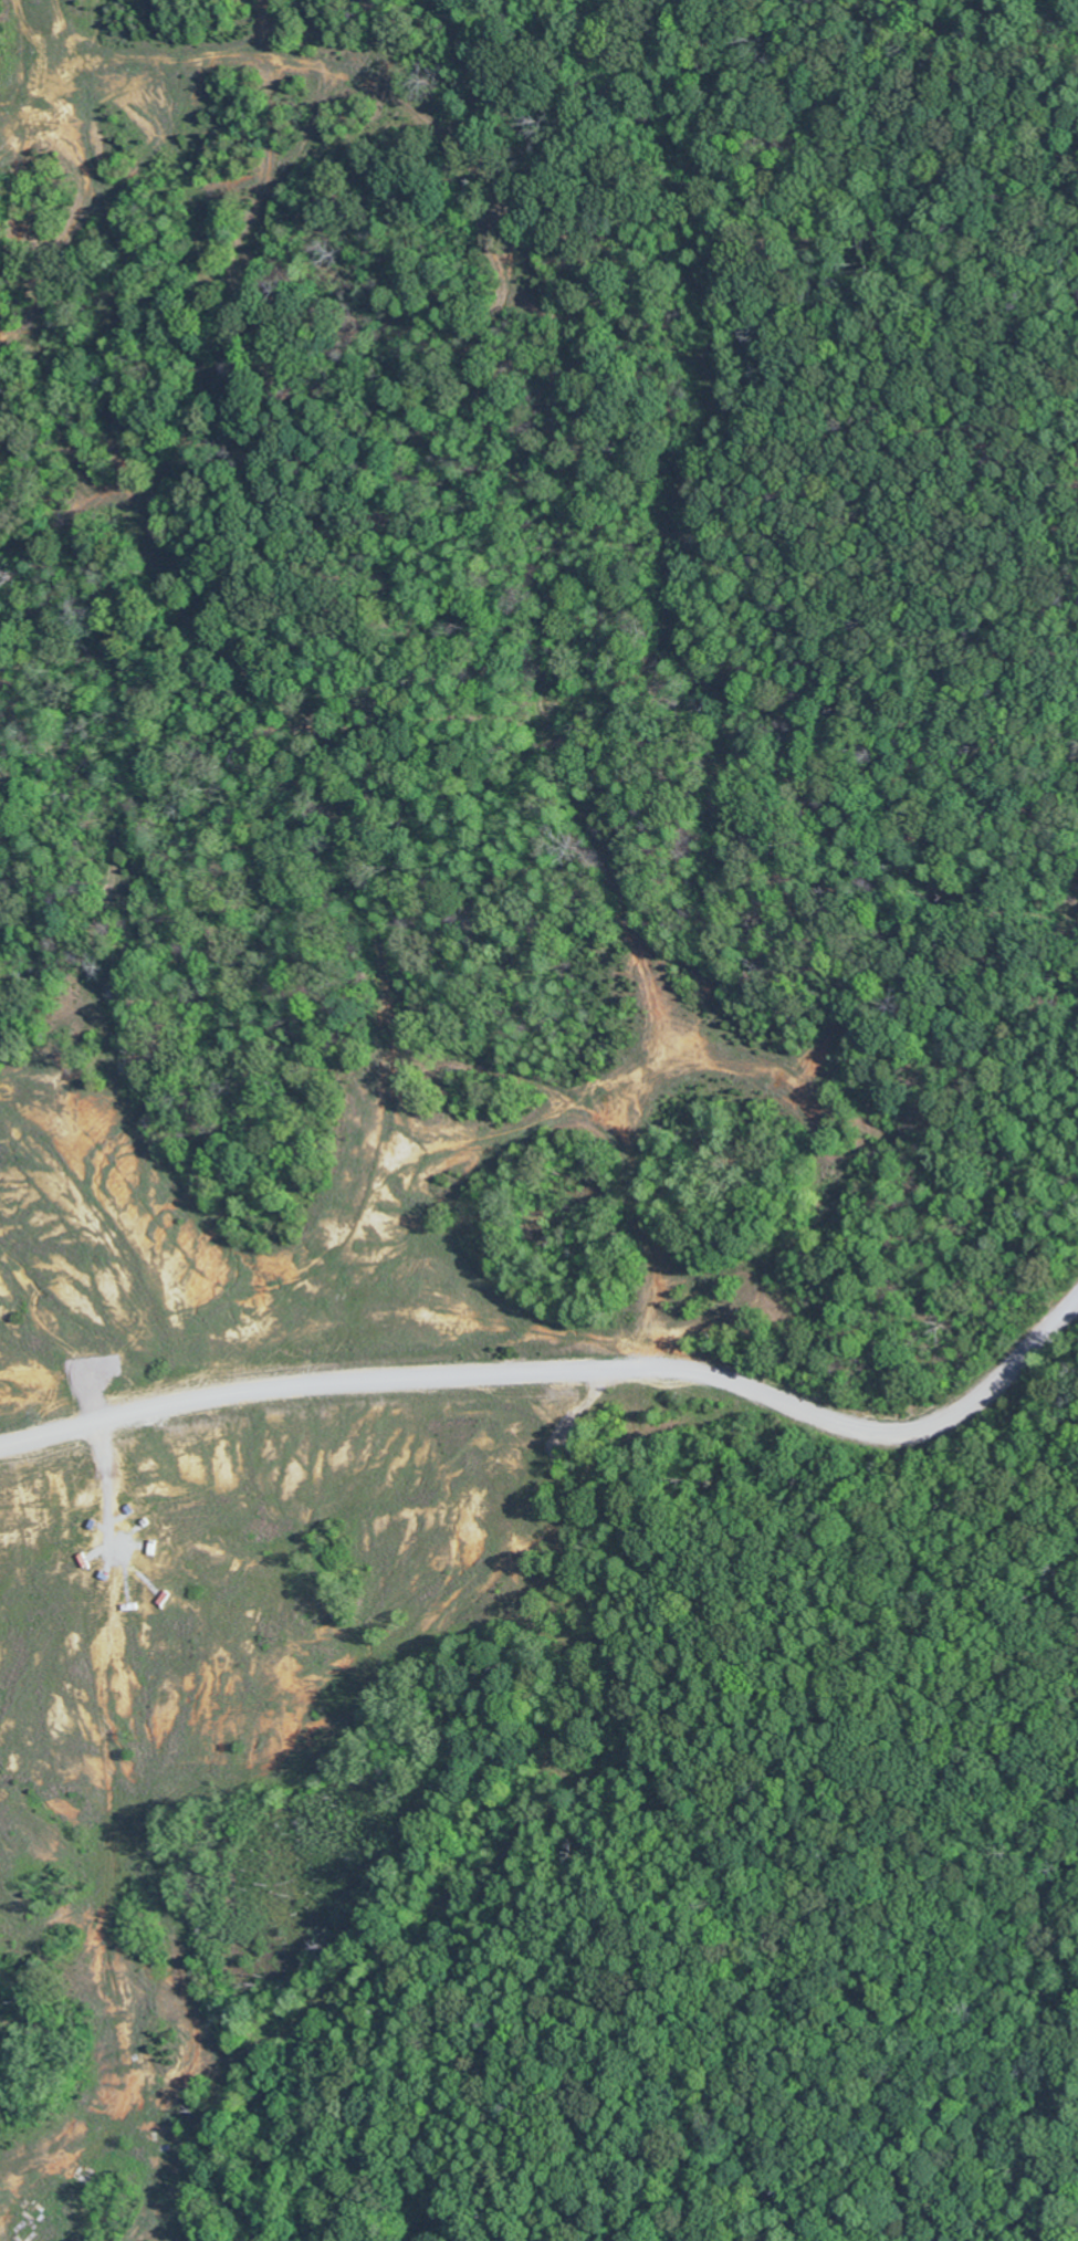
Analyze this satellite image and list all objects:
road: (562, 1369)

